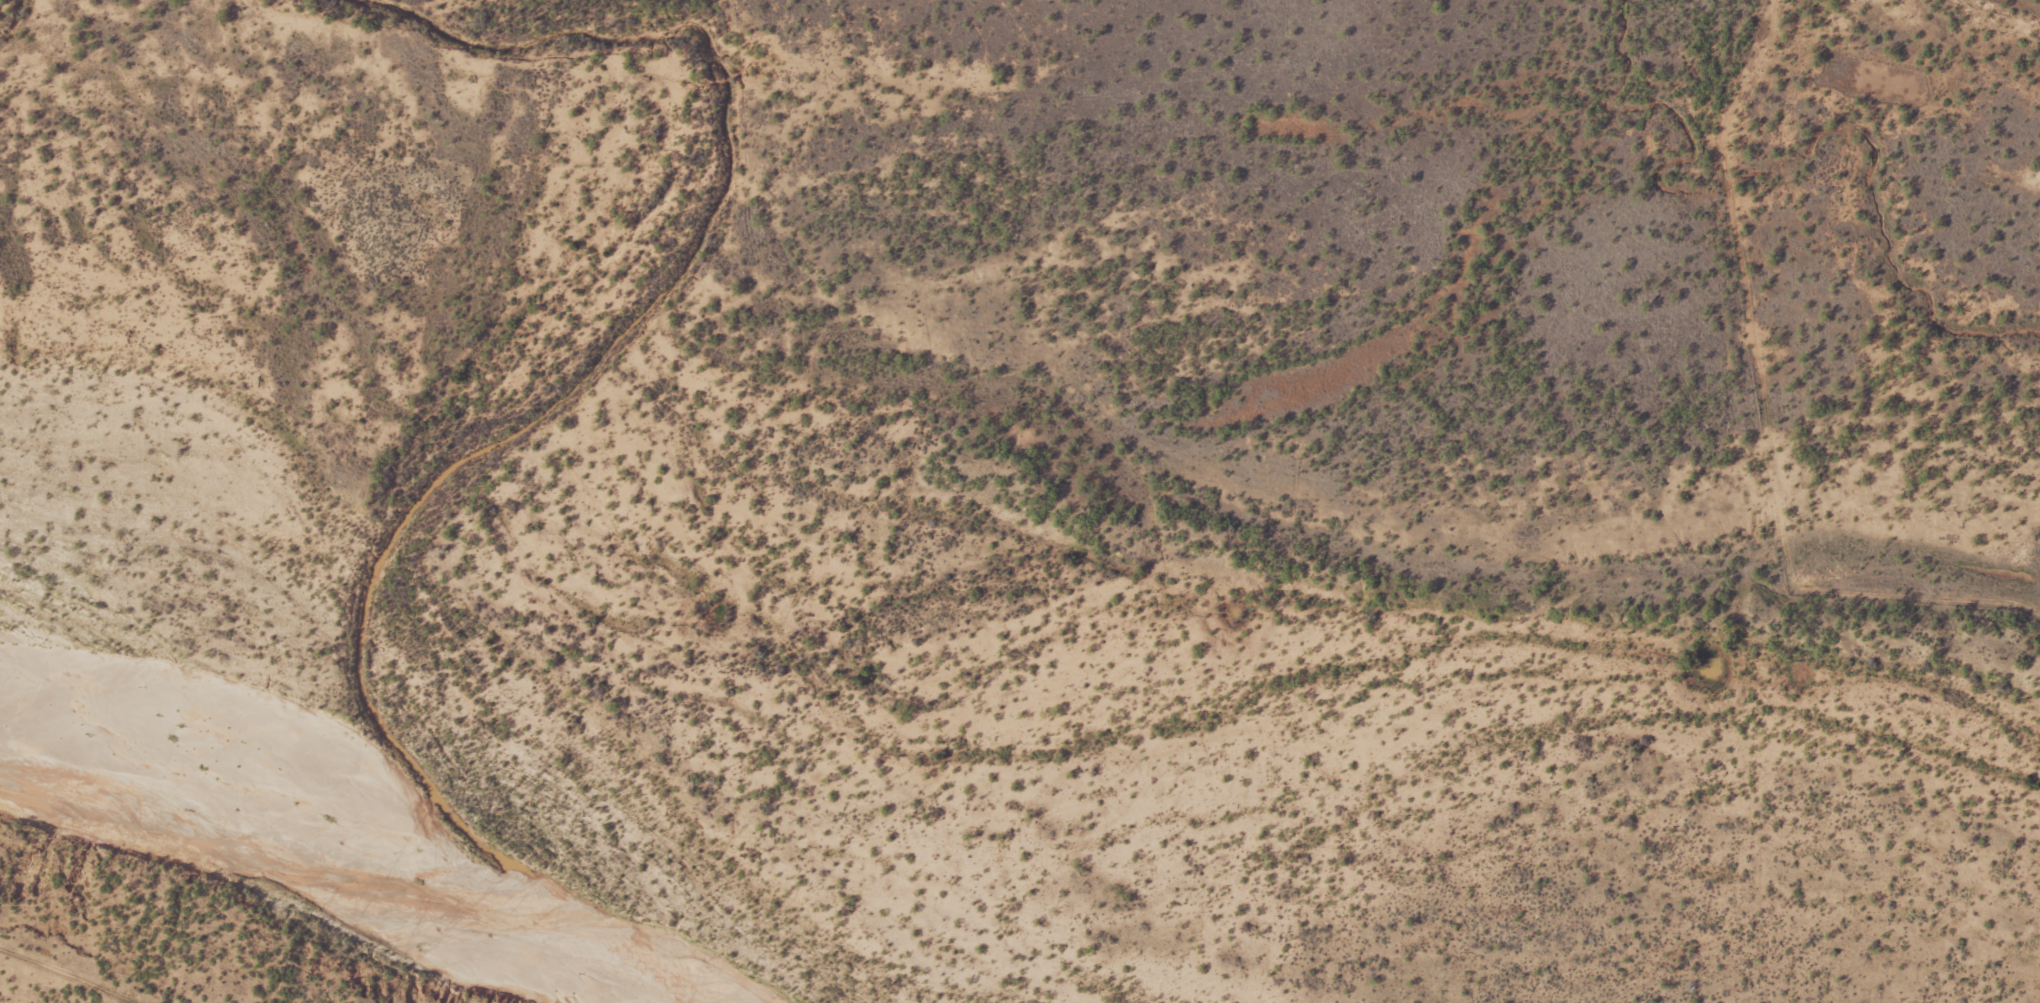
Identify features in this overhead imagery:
river: (327, 852)

